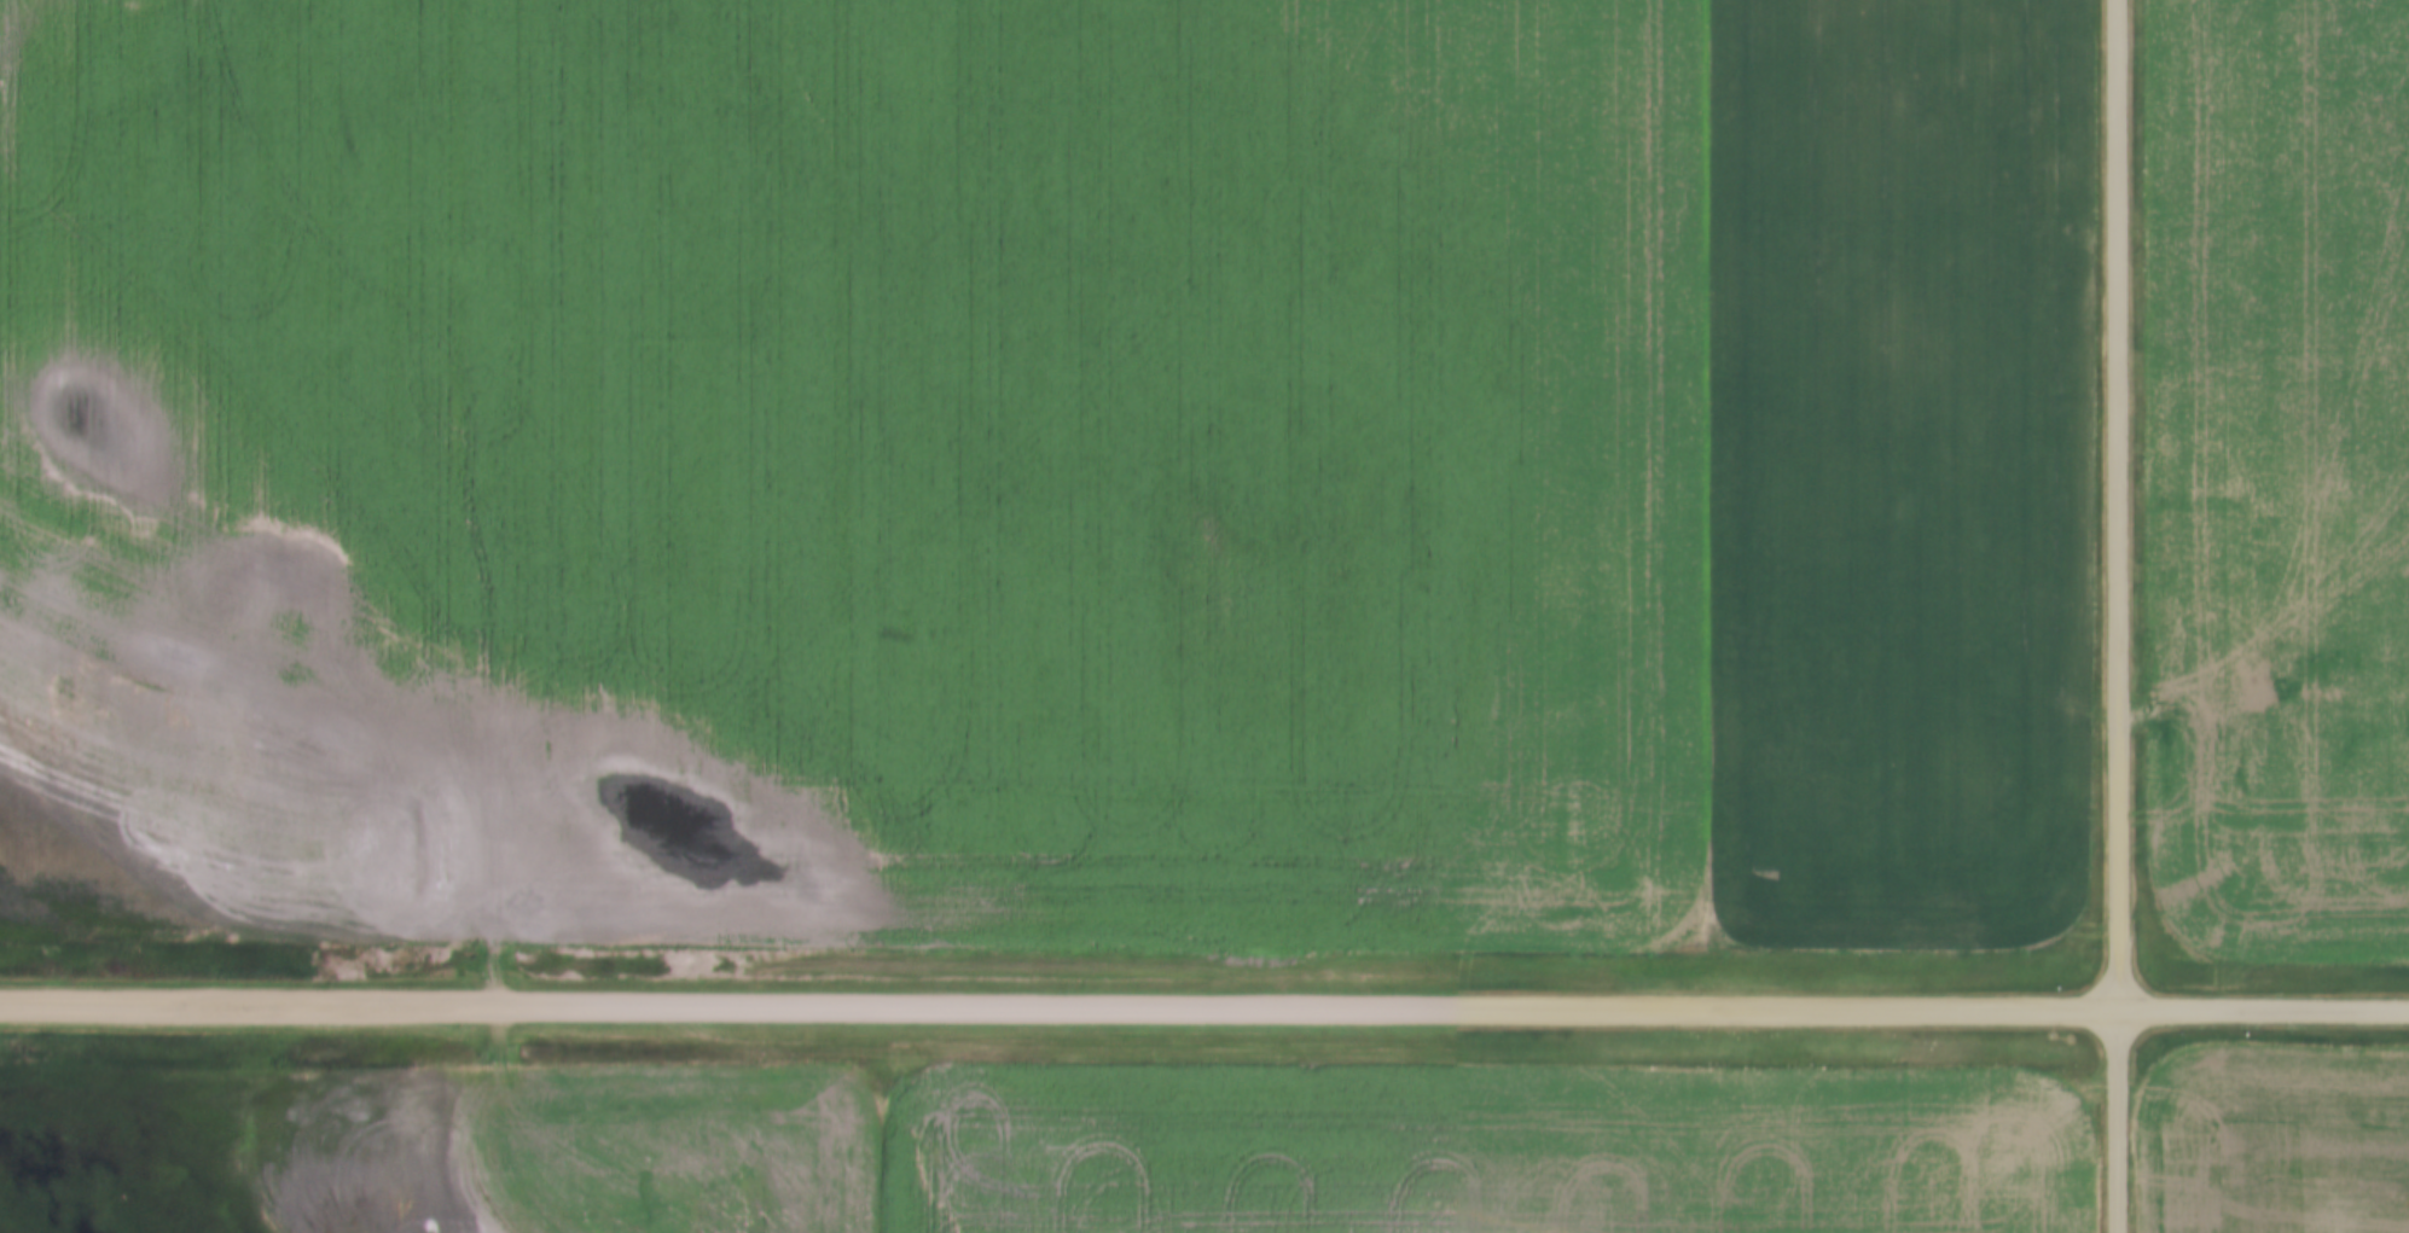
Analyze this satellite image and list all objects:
road: (2114, 616)
road: (1057, 1008)
road: (2262, 1010)

